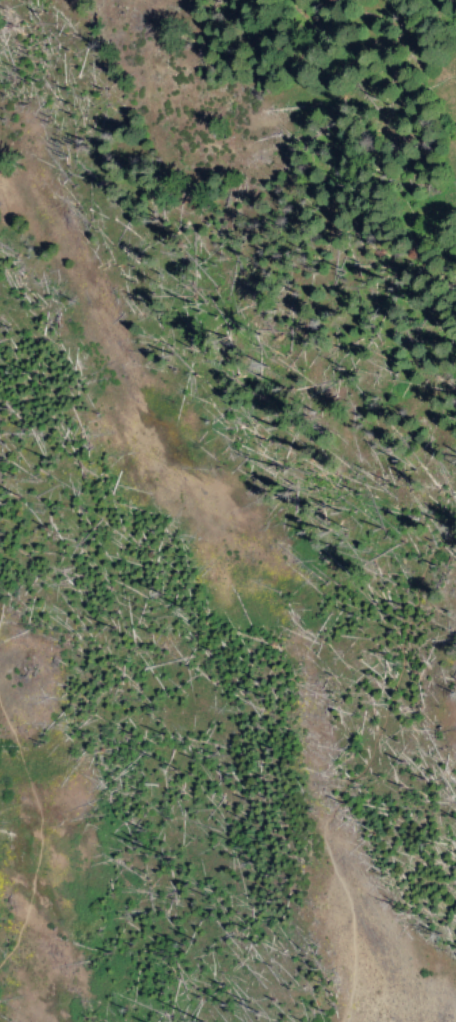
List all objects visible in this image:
road: (355, 769)
road: (38, 831)

